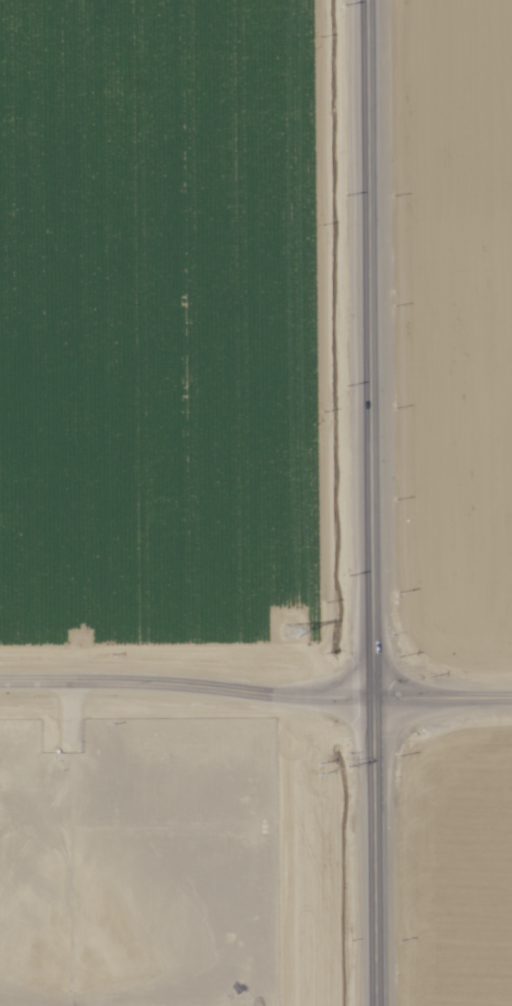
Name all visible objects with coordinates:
crop: (167, 329)
crop: (453, 331)
road: (358, 503)
power tower: (286, 628)
road: (256, 684)
solar farm: (137, 867)
crop: (447, 867)

